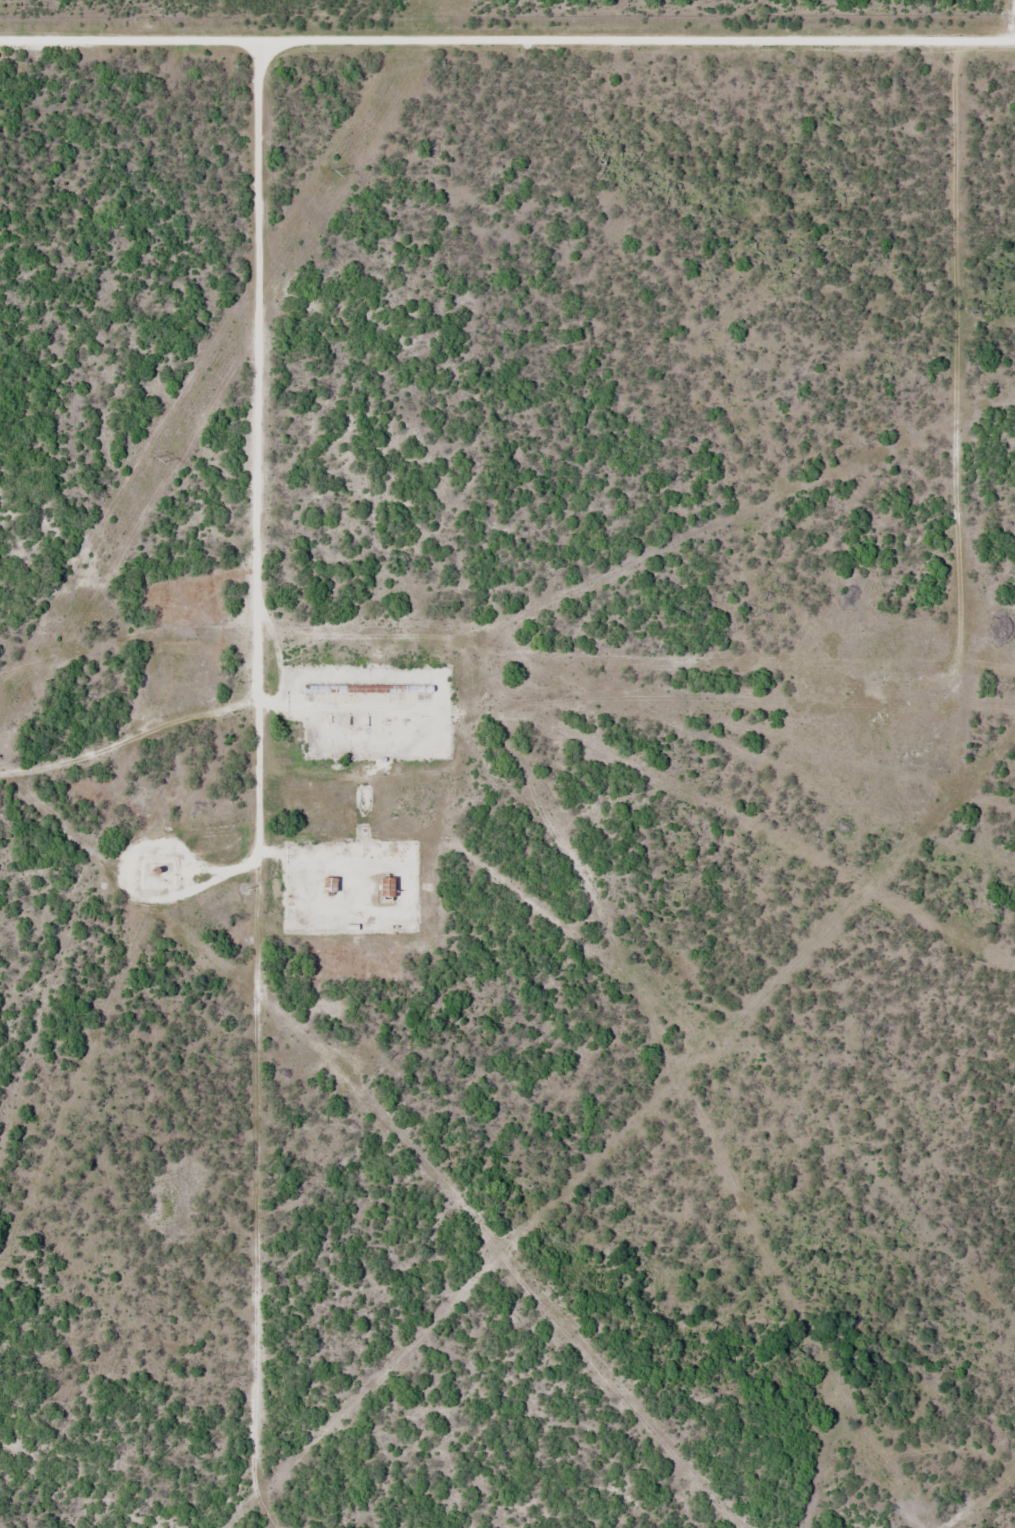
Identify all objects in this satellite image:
road: (1011, 14)
road: (507, 33)
power tower: (334, 168)
power tower: (155, 455)
road: (261, 520)
road: (228, 868)
building: (381, 888)

